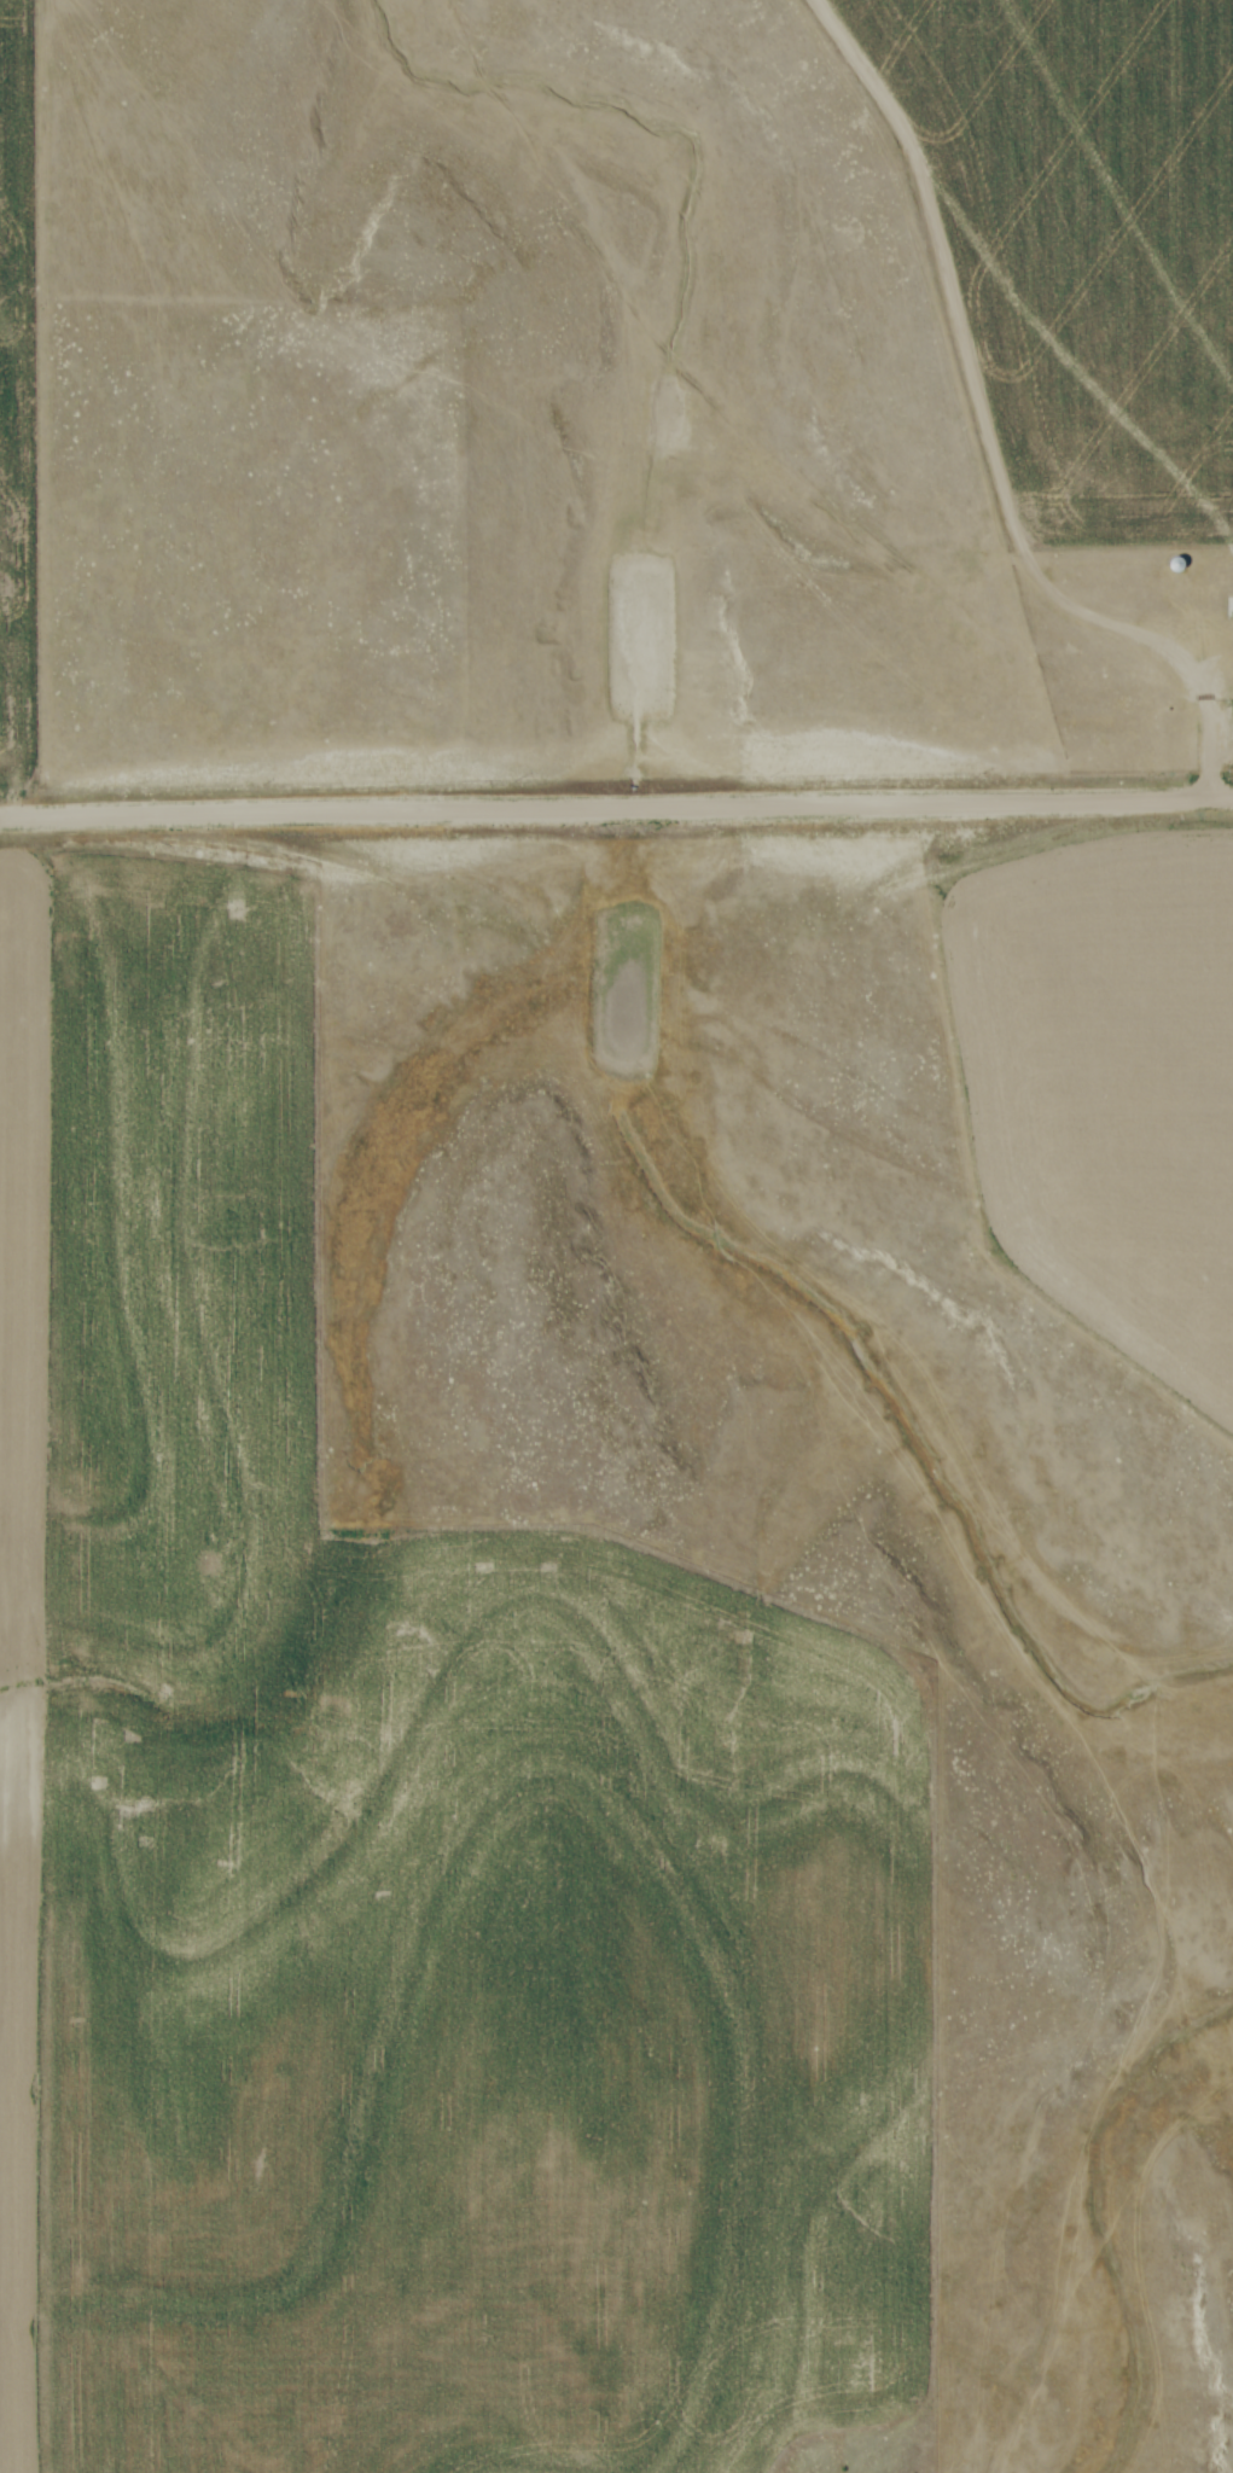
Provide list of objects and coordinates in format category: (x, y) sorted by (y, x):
building: (1176, 563)
road: (616, 809)

